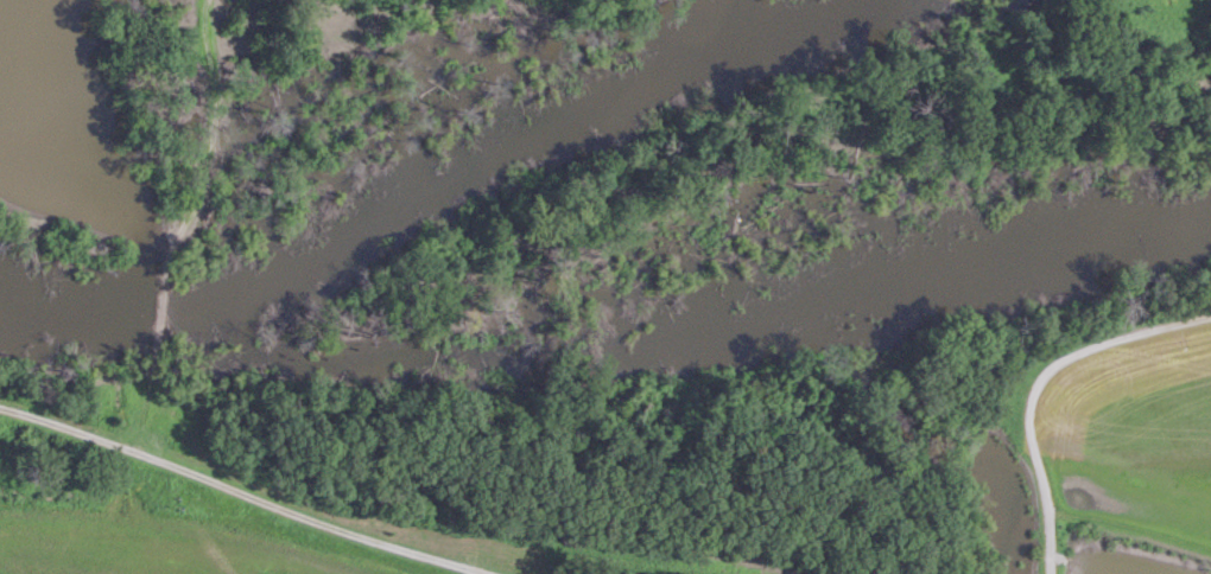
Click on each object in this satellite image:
road: (1034, 384)

